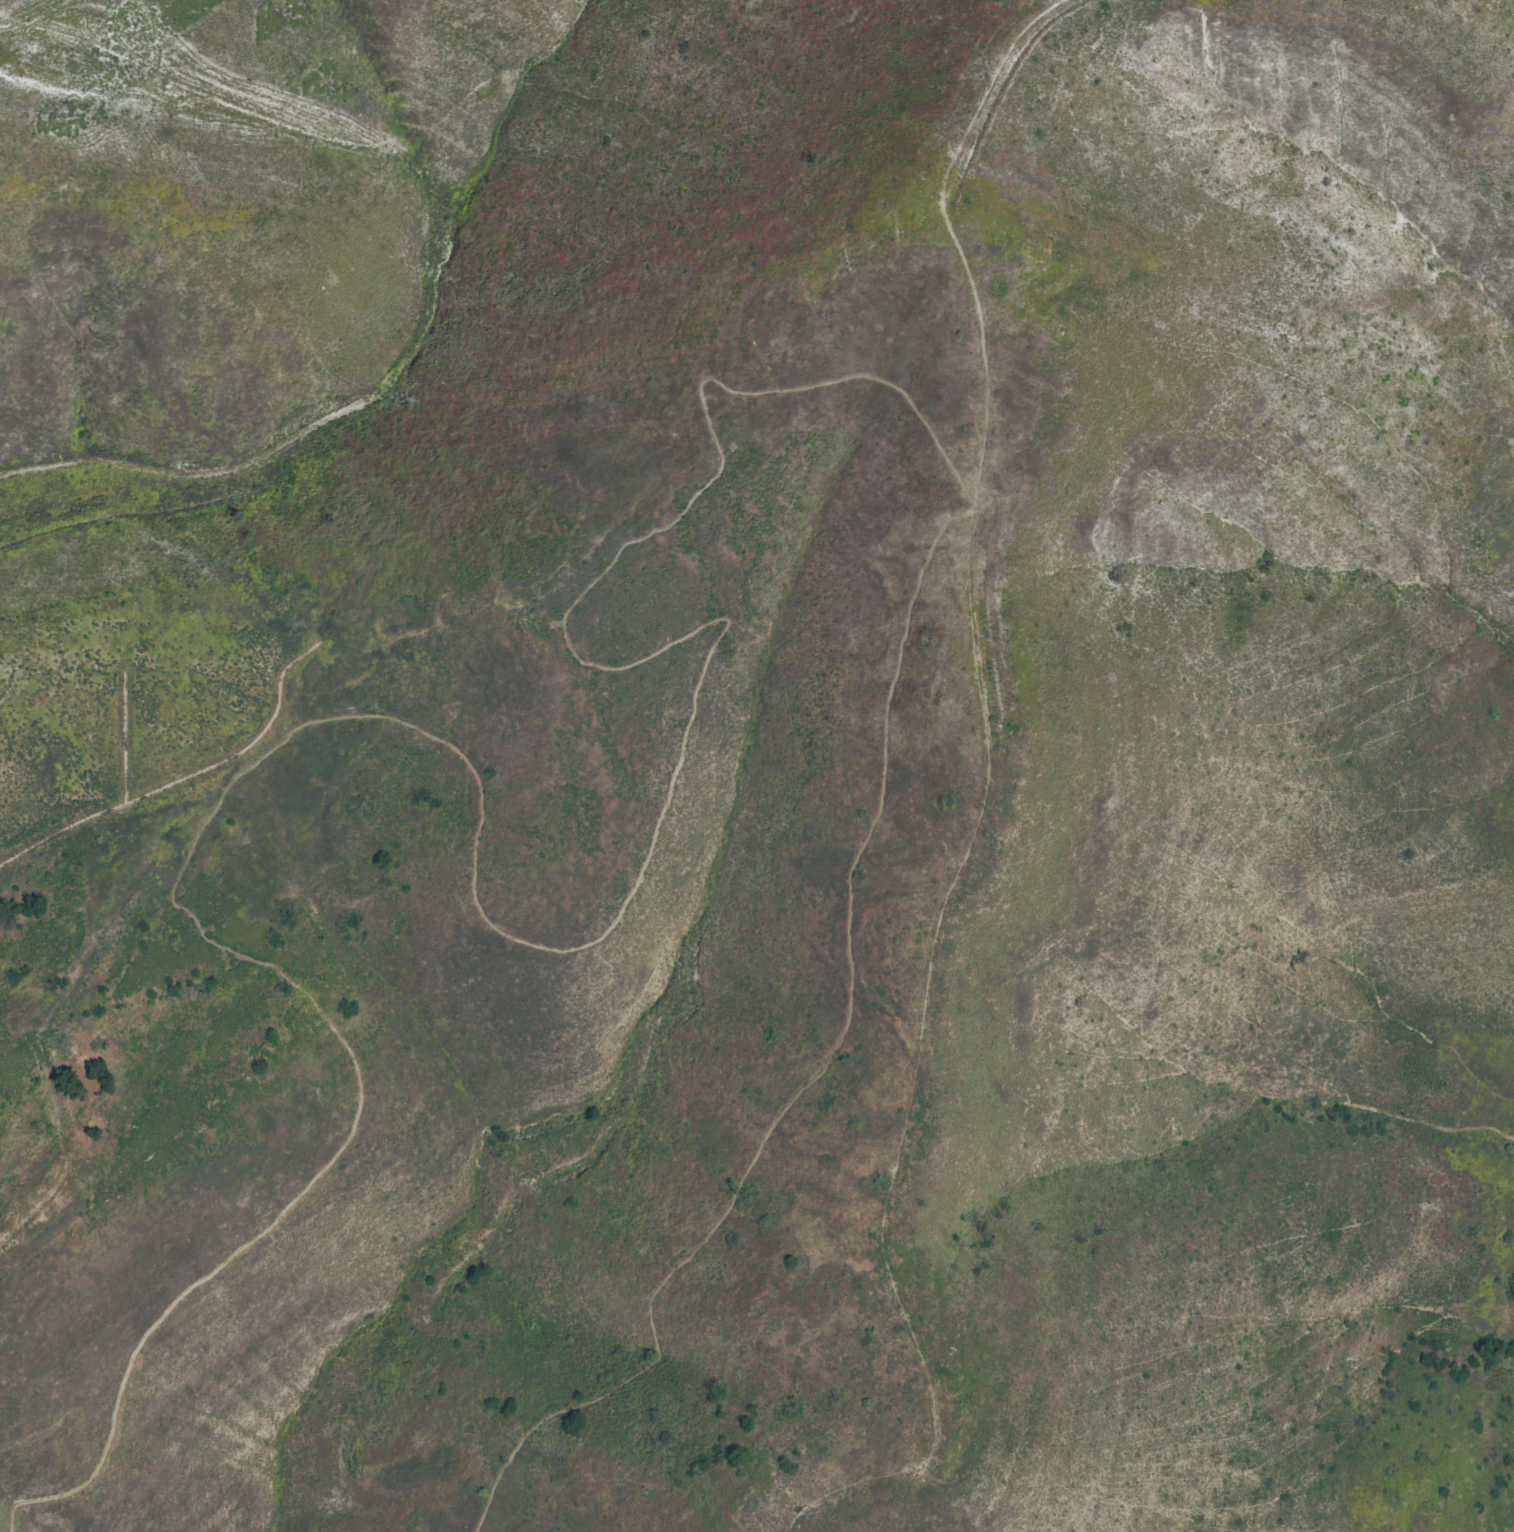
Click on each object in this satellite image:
road: (950, 236)
road: (471, 887)
road: (917, 1064)

